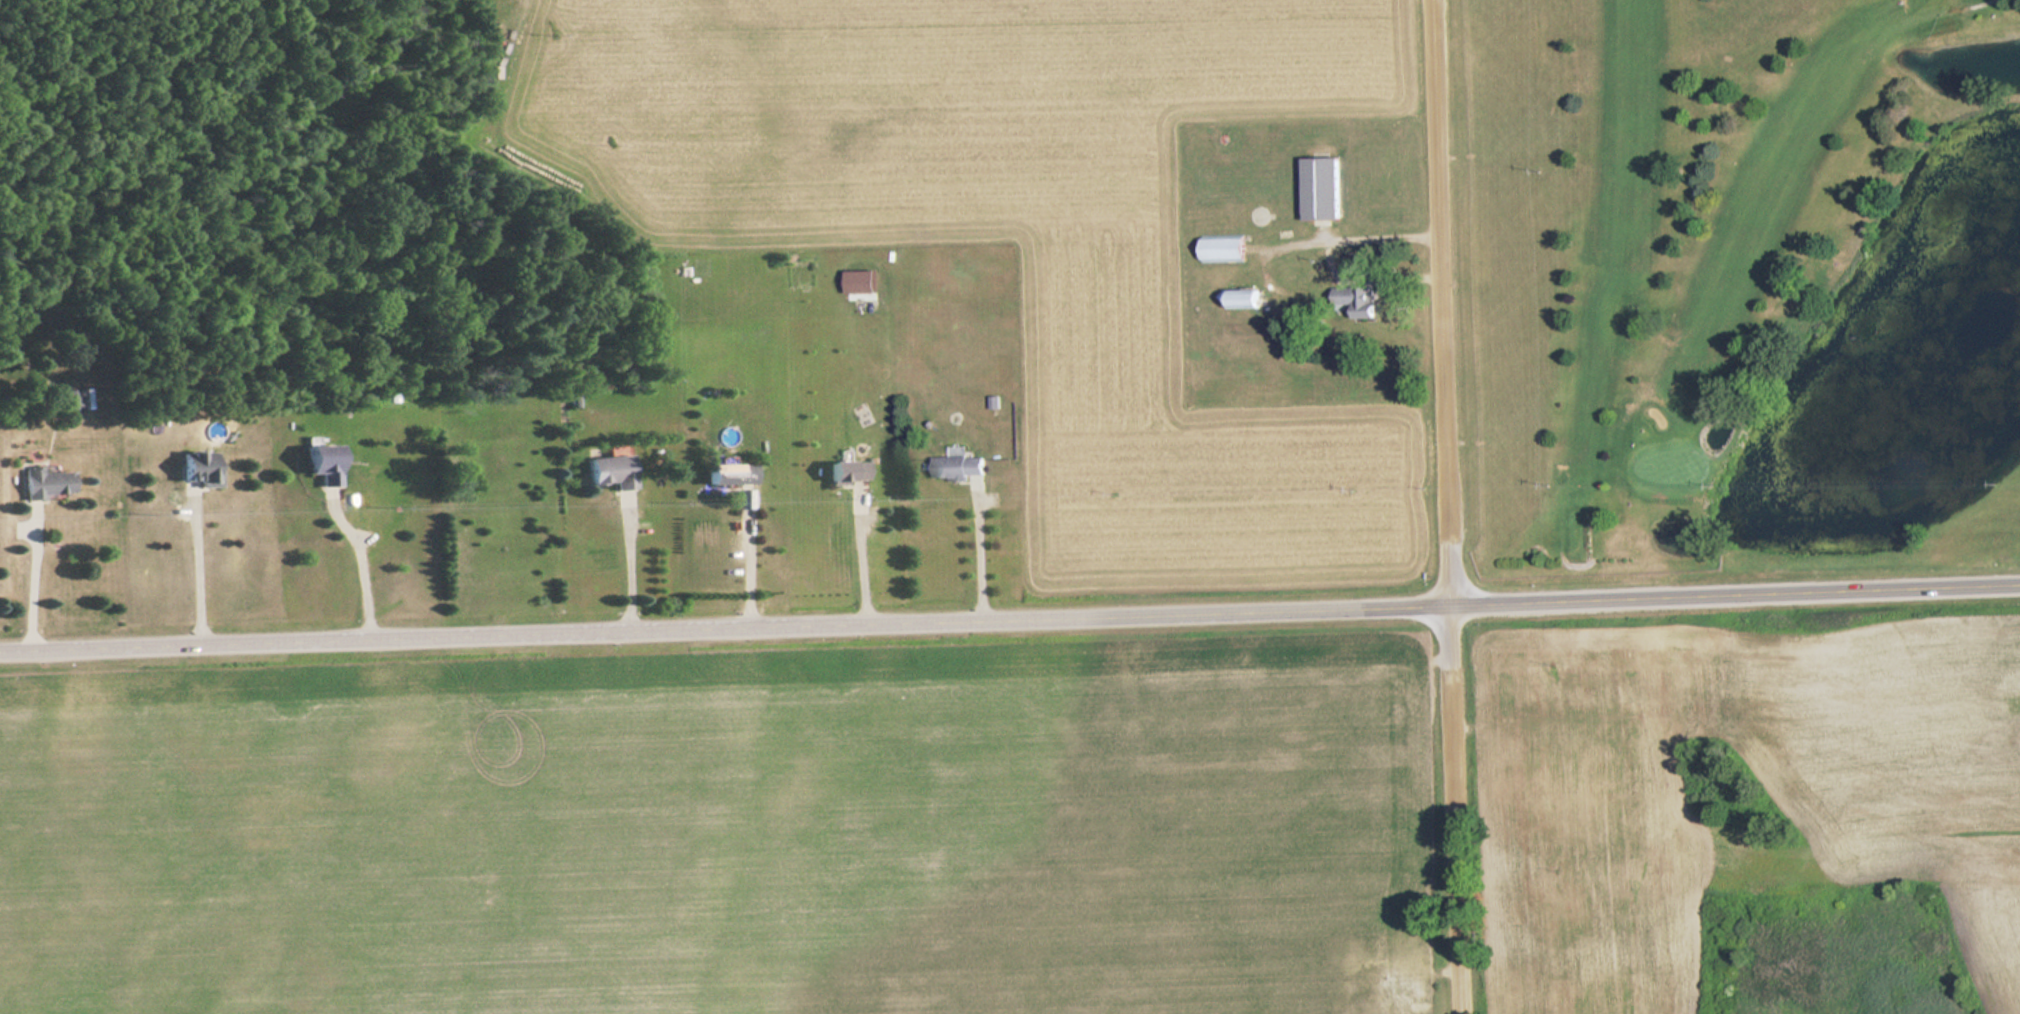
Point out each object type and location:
building: (1325, 187)
building: (1225, 249)
park: (1744, 285)
building: (1249, 298)
building: (1361, 301)
building: (68, 400)
building: (327, 463)
building: (202, 467)
building: (960, 467)
building: (613, 470)
building: (851, 470)
building: (733, 473)
building: (48, 482)
road: (1449, 506)
road: (1010, 616)

